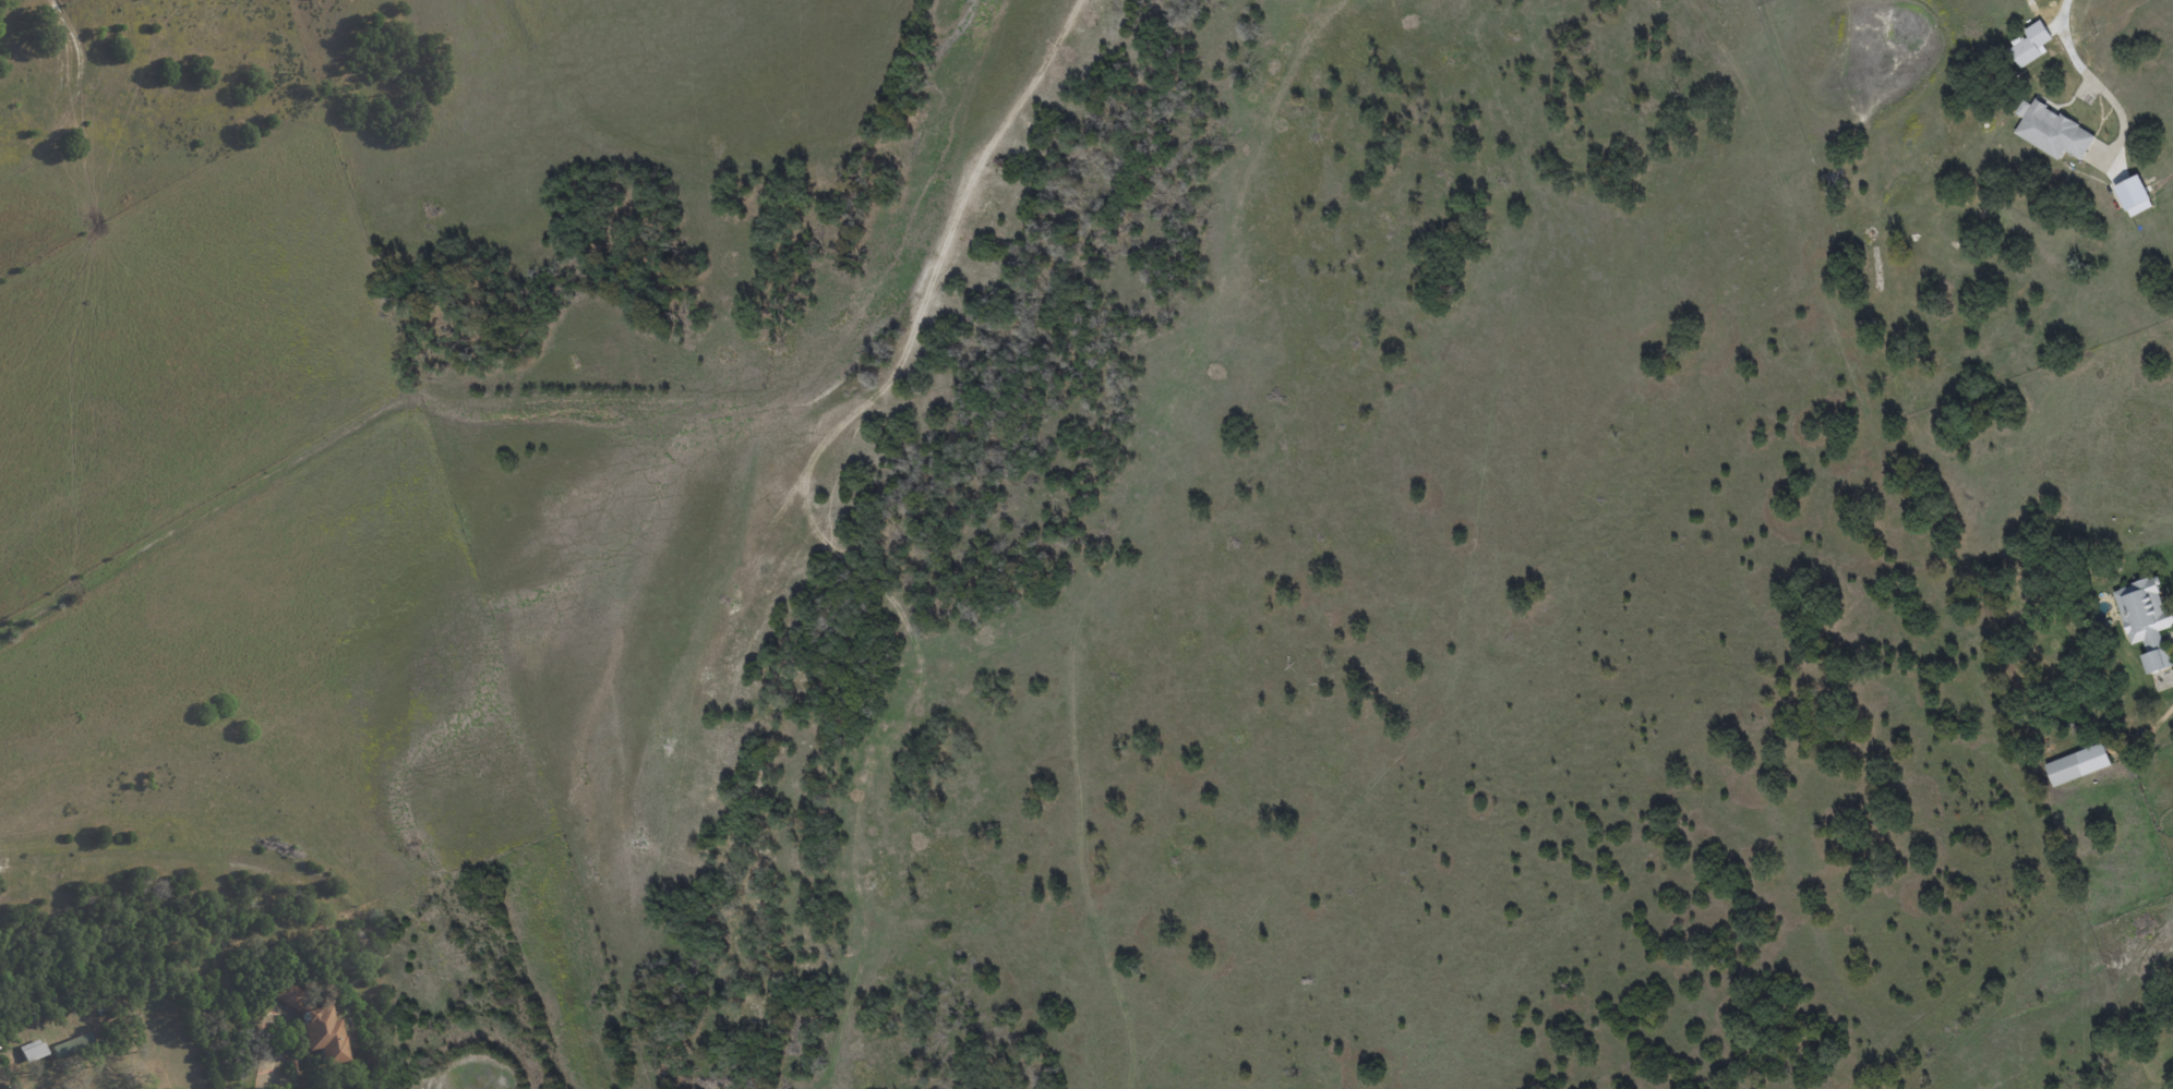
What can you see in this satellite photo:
road: (2065, 47)
building: (2051, 131)
building: (2146, 620)
building: (2077, 764)
airport runway: (556, 978)
building: (313, 1025)
building: (72, 1045)
building: (33, 1049)
road: (263, 1073)
road: (29, 1084)

